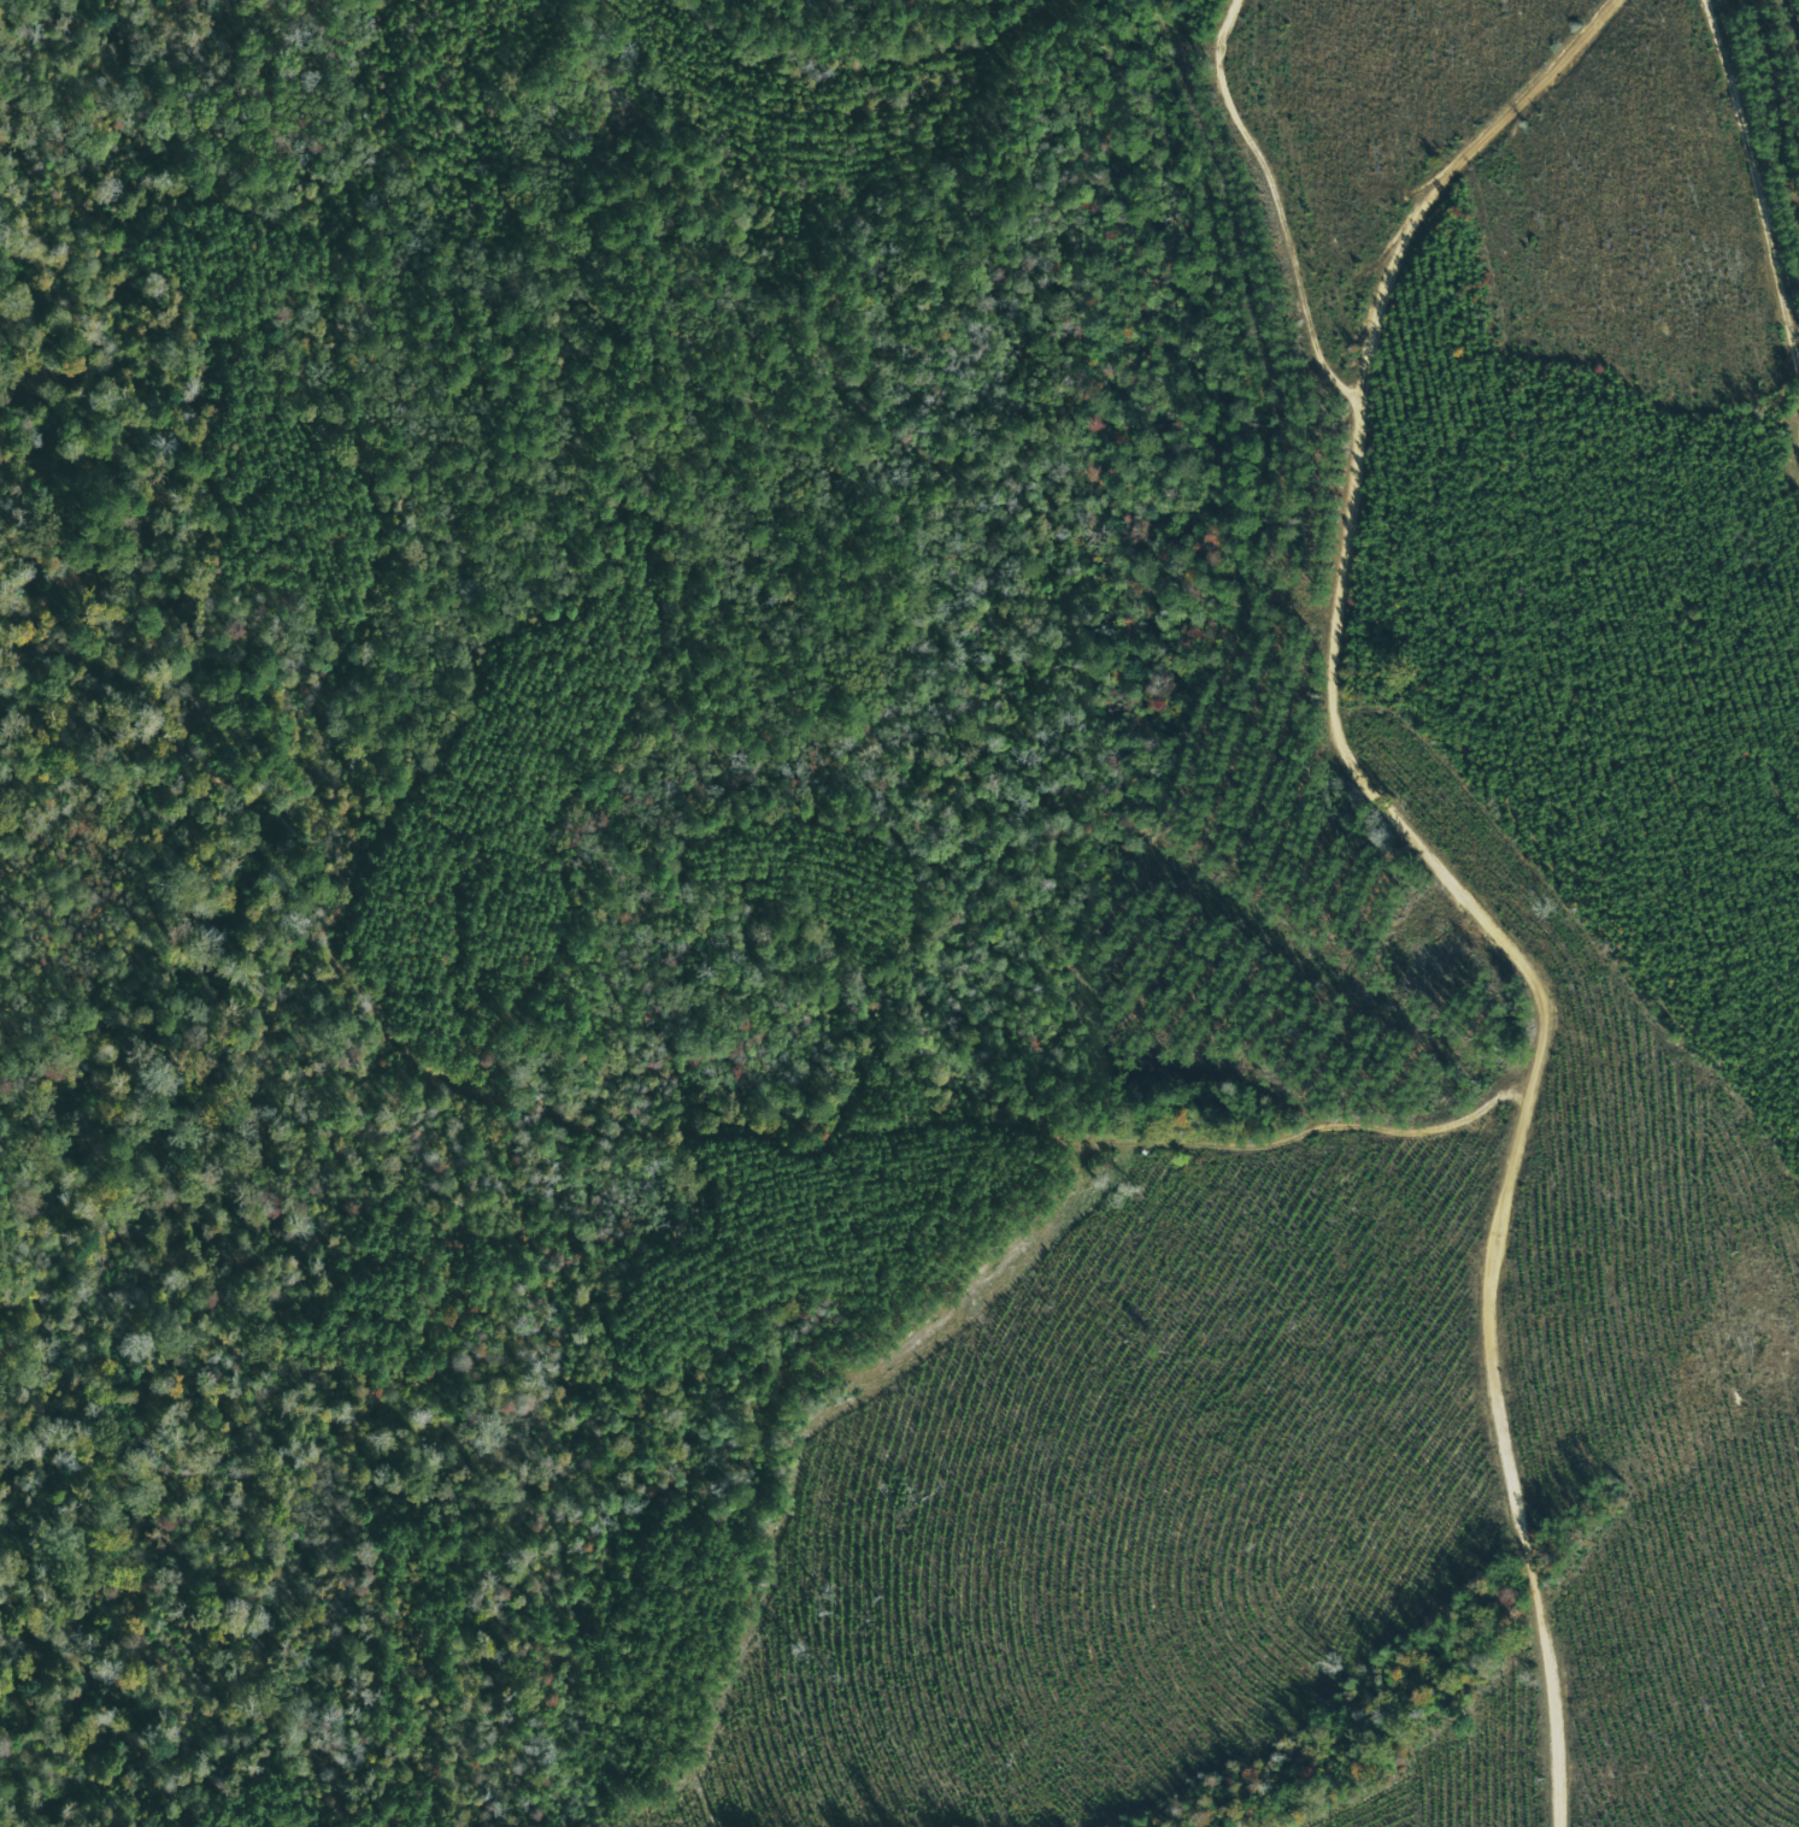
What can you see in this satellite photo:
road: (1754, 167)
road: (1458, 865)

